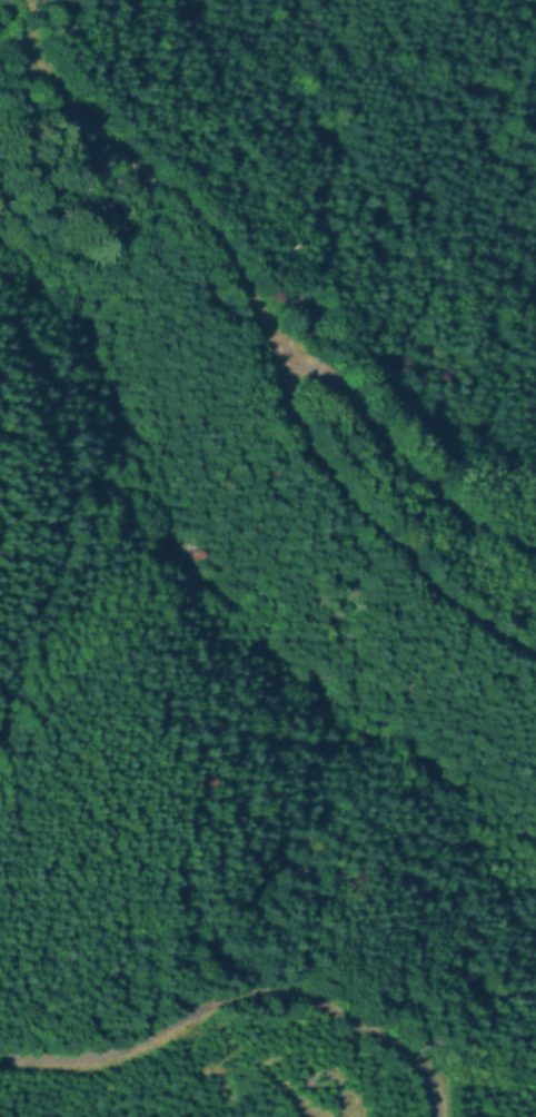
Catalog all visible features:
road: (166, 210)
road: (278, 413)
road: (239, 1001)

